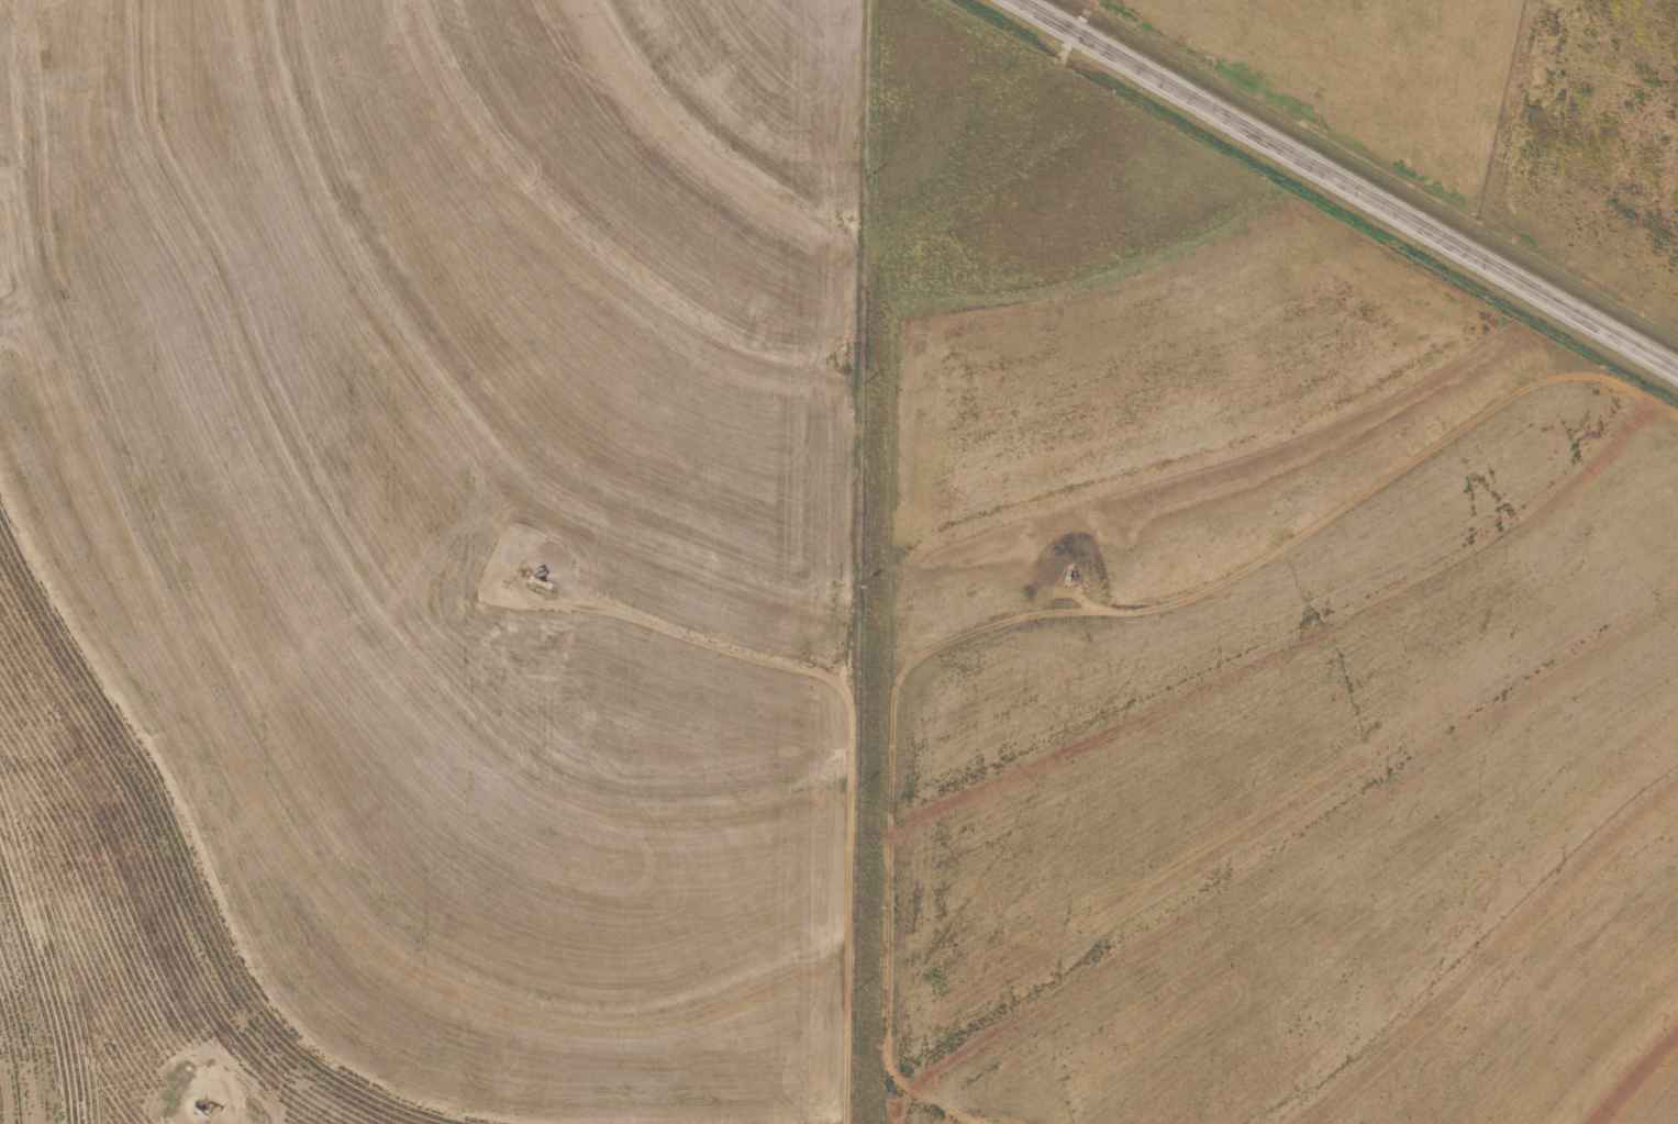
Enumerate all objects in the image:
road: (1349, 183)
road: (1090, 381)

